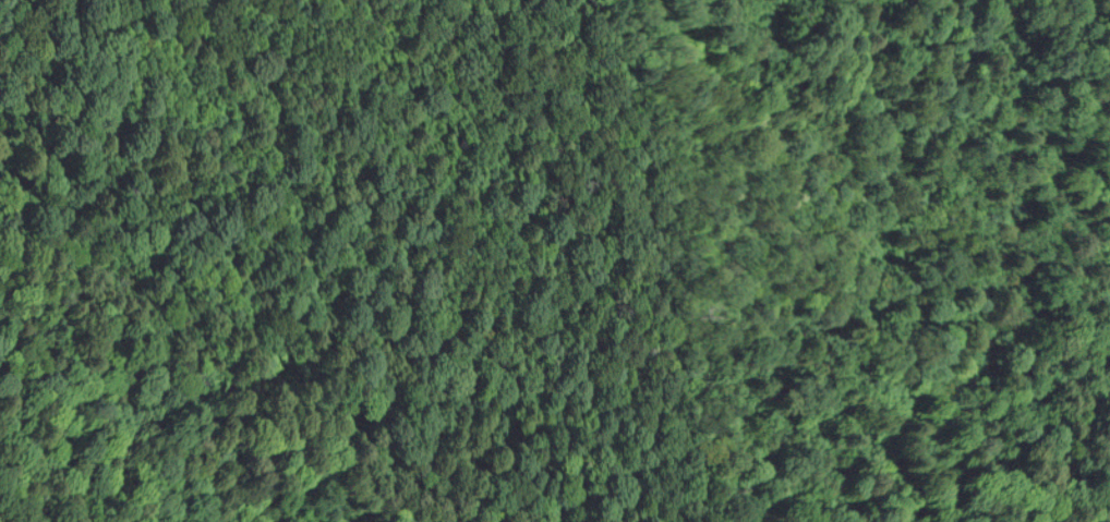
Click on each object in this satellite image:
road: (973, 286)

